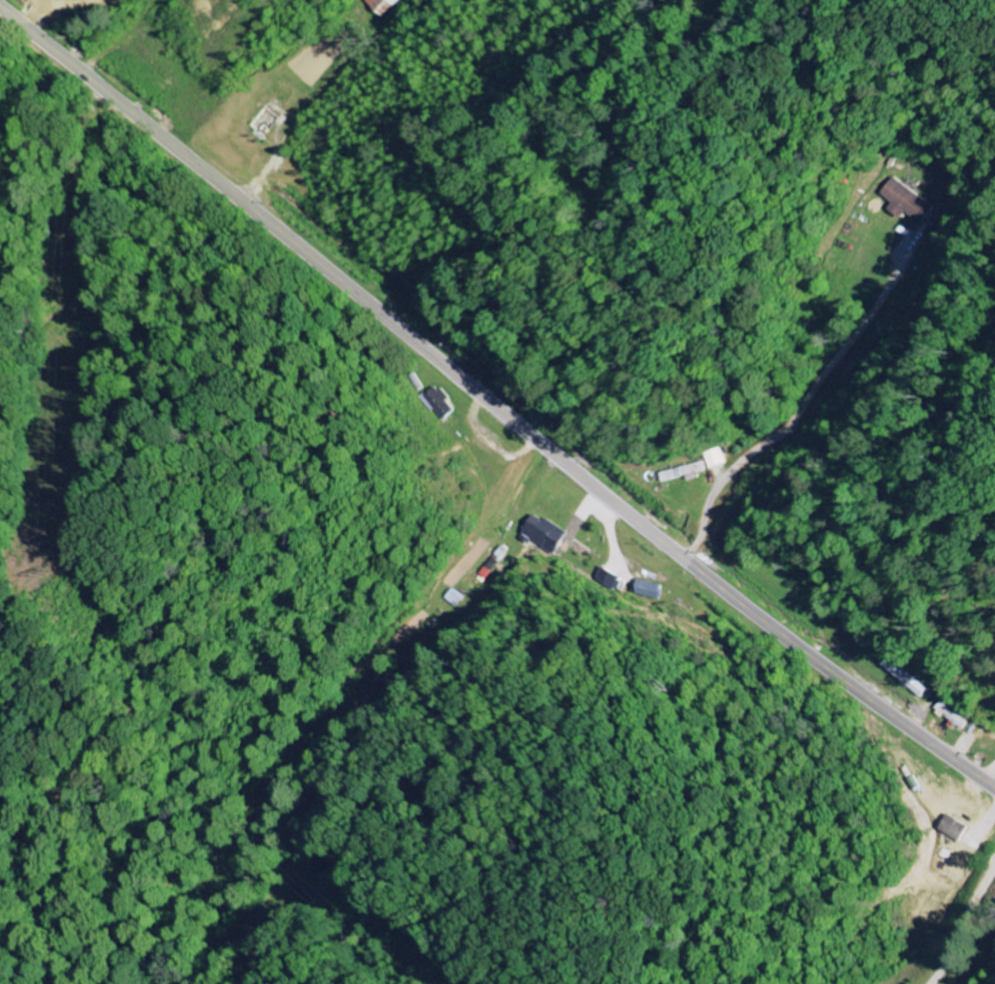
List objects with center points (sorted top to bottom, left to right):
building: (382, 5)
building: (909, 202)
building: (437, 403)
road: (493, 403)
building: (686, 473)
building: (544, 535)
power tower: (33, 569)
building: (645, 590)

